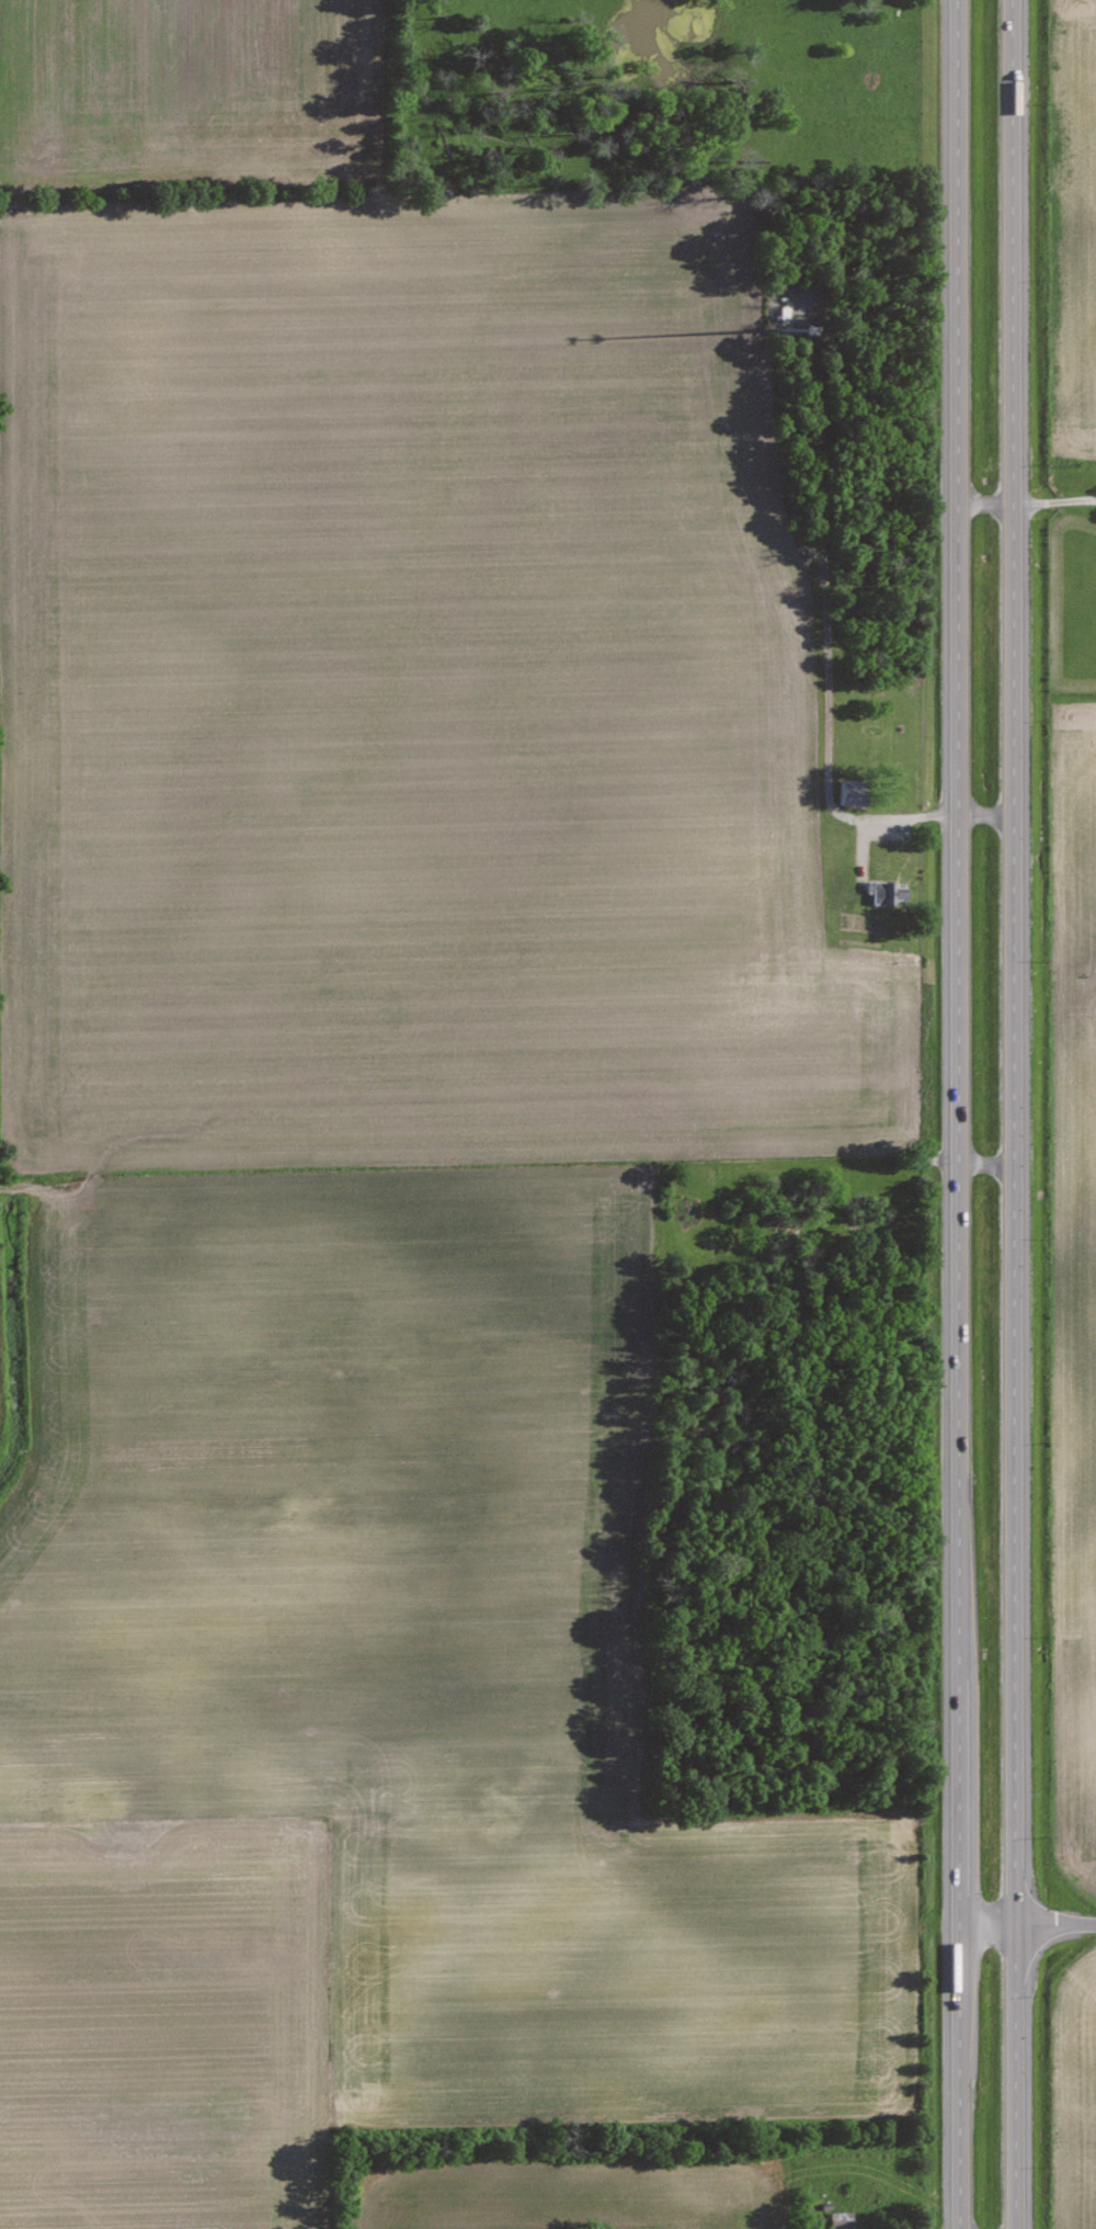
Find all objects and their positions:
road: (1053, 496)
building: (853, 790)
building: (887, 891)
road: (957, 1114)
road: (1012, 1114)
road: (1027, 1921)
building: (841, 2219)

